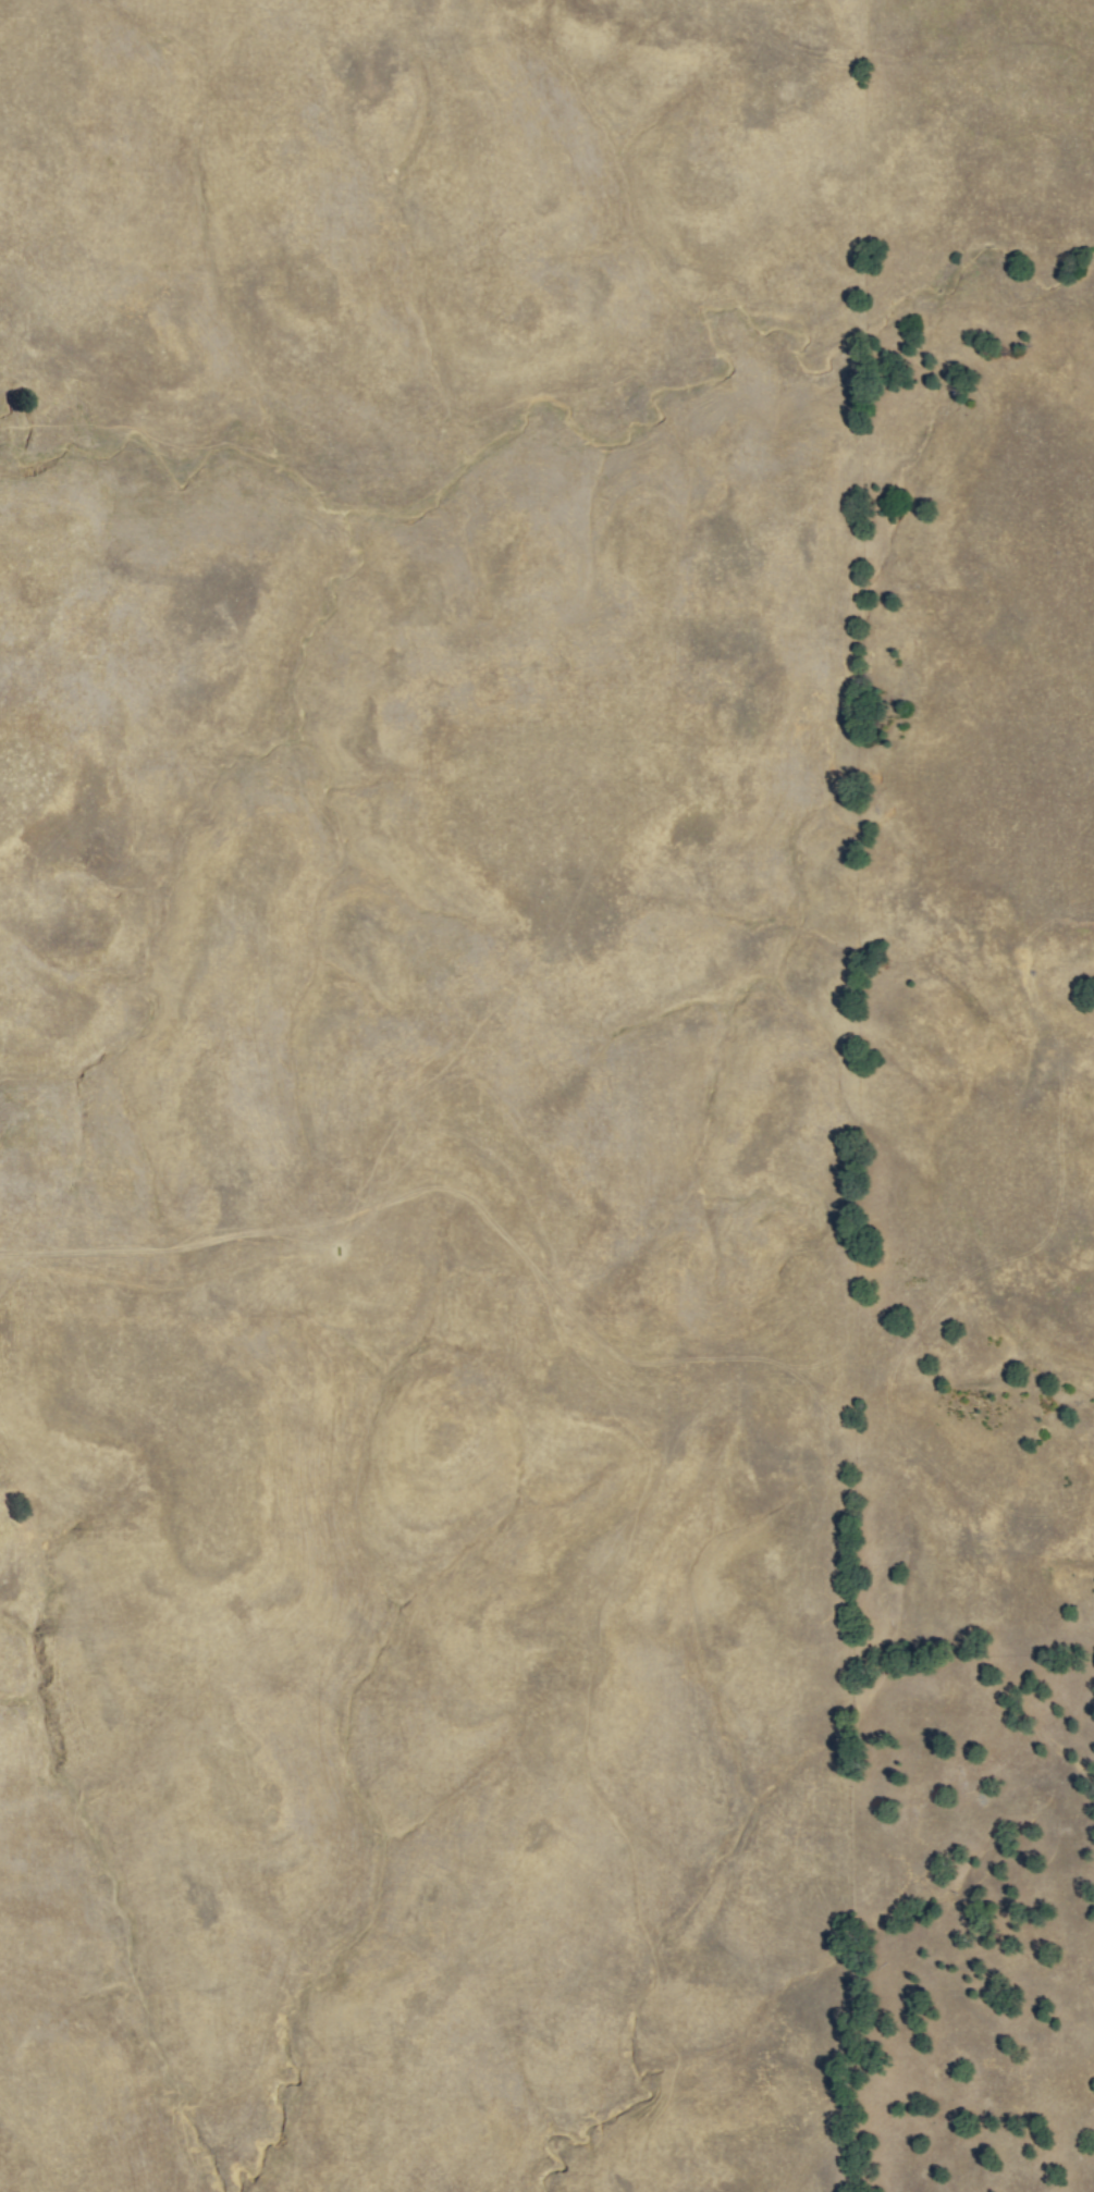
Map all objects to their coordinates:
road: (624, 1358)

